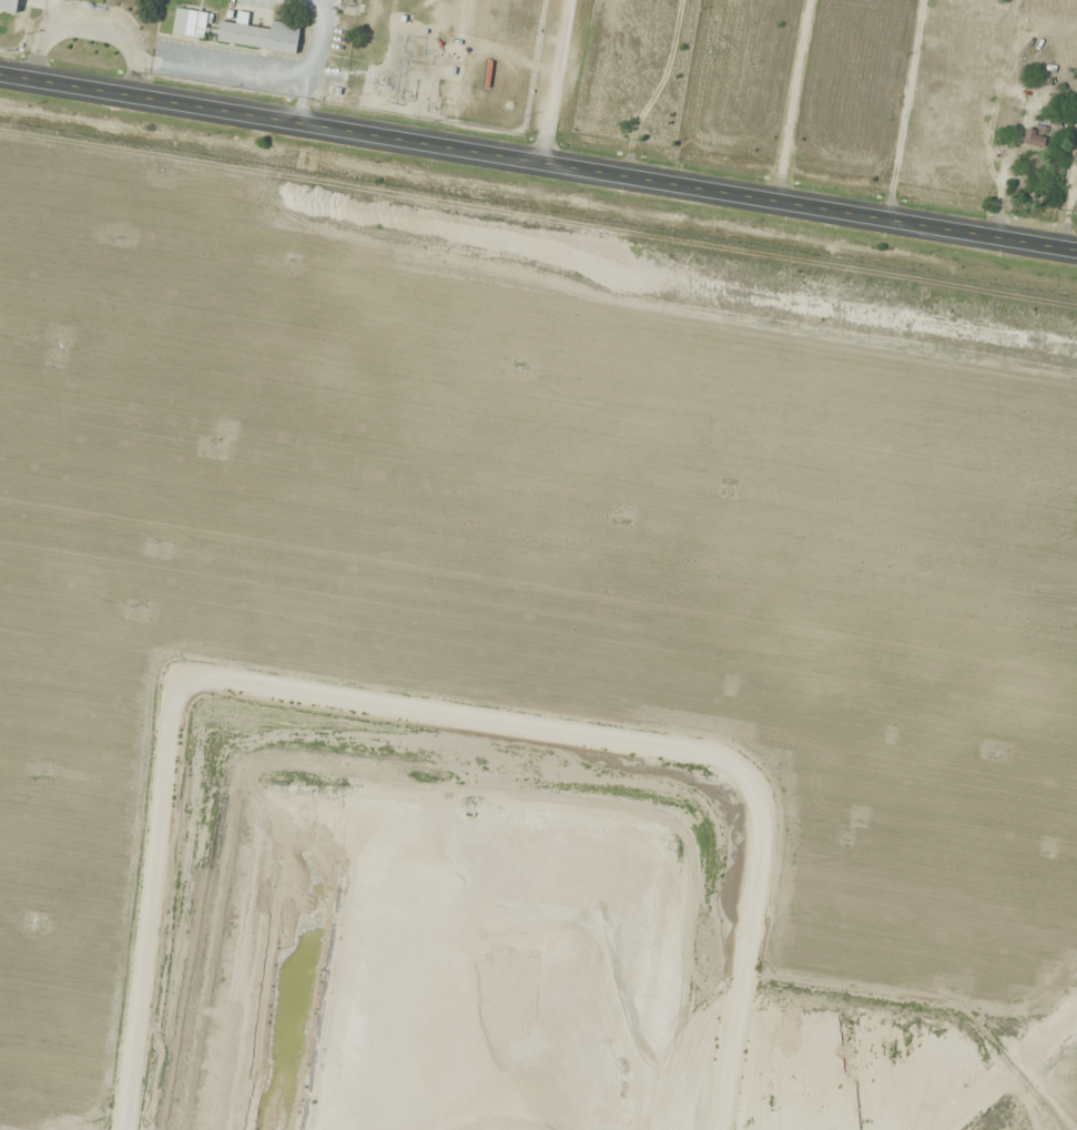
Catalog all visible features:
building: (9, 4)
building: (191, 23)
building: (261, 35)
road: (550, 81)
building: (1058, 114)
road: (538, 163)
landfill: (521, 678)

